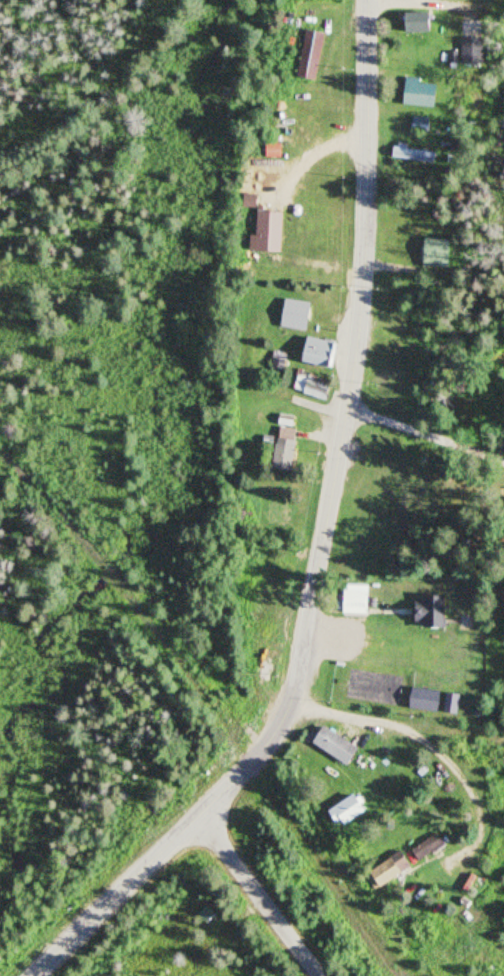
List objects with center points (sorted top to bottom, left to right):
road: (456, 2)
building: (412, 23)
building: (469, 51)
building: (305, 55)
building: (413, 93)
building: (416, 124)
building: (409, 154)
building: (258, 230)
building: (431, 254)
building: (289, 315)
building: (325, 333)
building: (310, 352)
building: (272, 362)
building: (313, 387)
building: (280, 420)
road: (423, 433)
building: (279, 449)
road: (319, 538)
building: (350, 599)
building: (428, 611)
building: (153, 620)
park: (398, 636)
building: (419, 699)
railway: (206, 702)
building: (447, 702)
building: (328, 744)
road: (431, 747)
building: (339, 810)
railway: (286, 814)
building: (423, 847)
building: (384, 869)
road: (255, 896)

